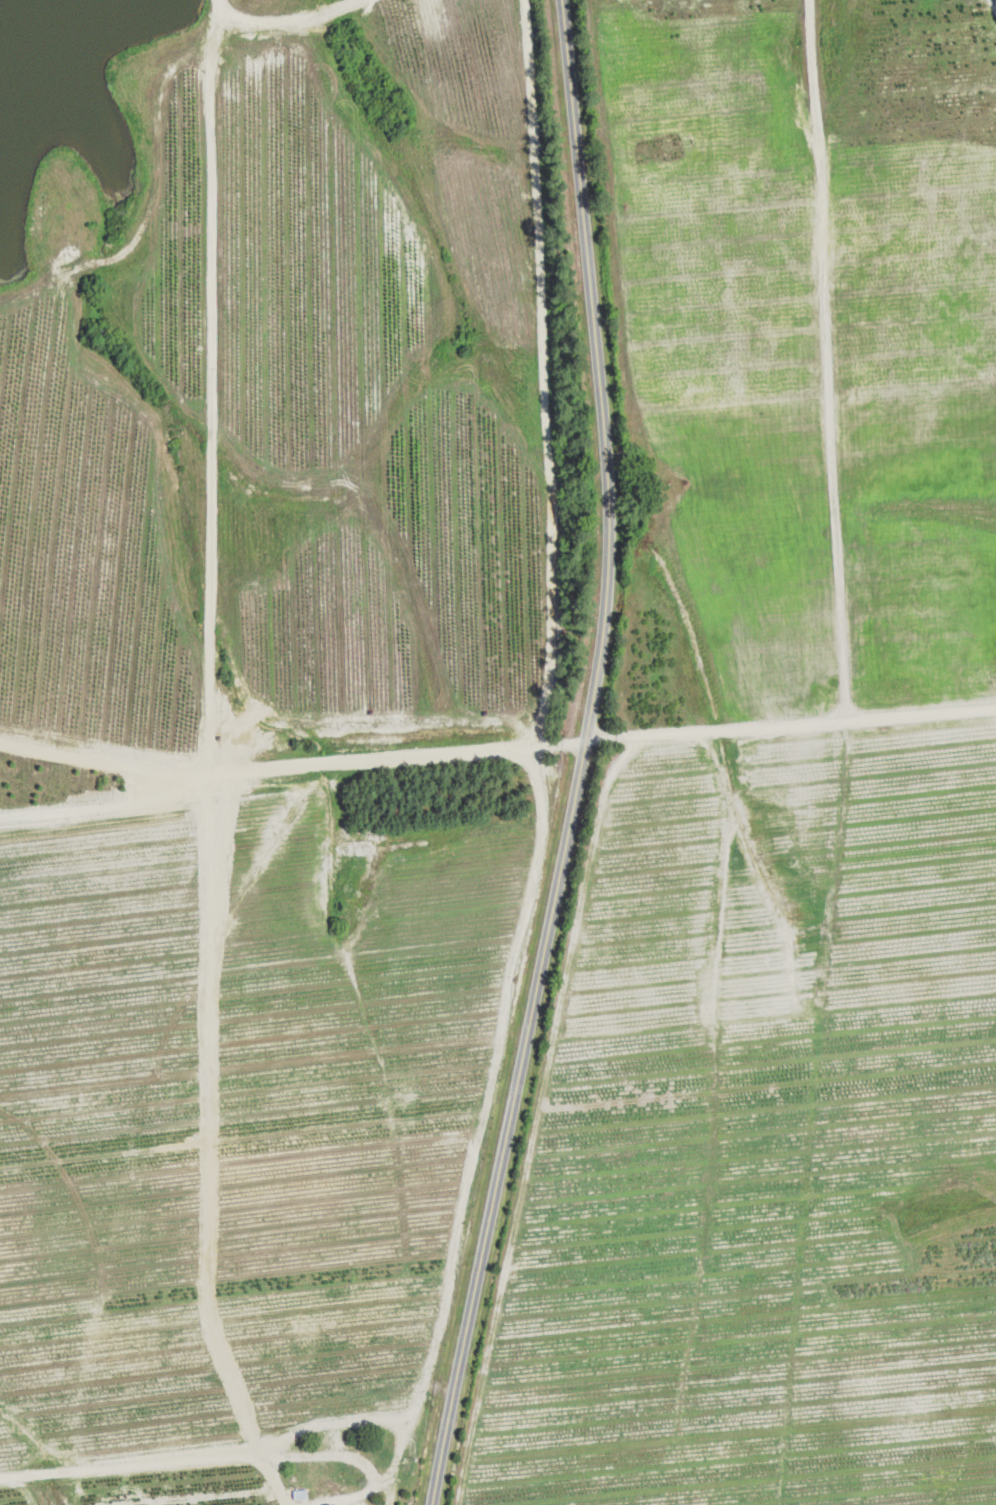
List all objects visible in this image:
road: (581, 757)
building: (296, 1494)

